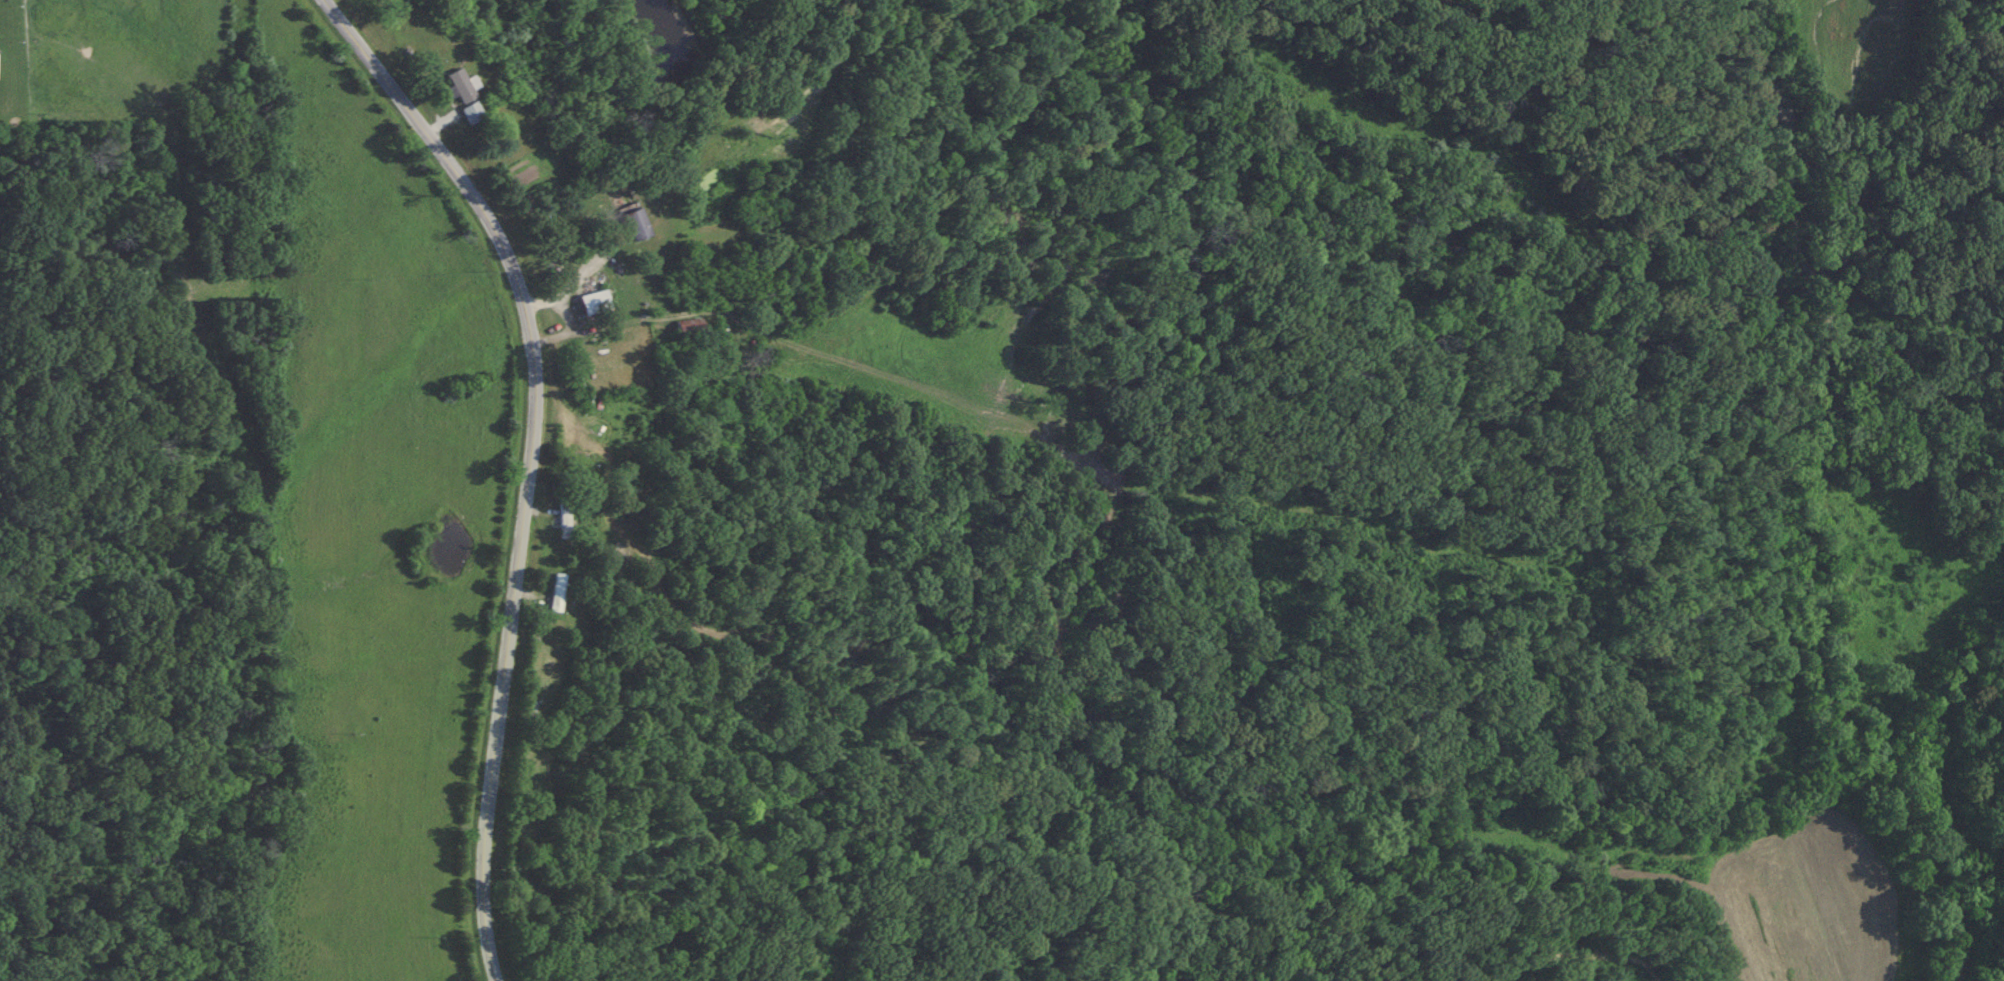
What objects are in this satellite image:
building: (461, 85)
building: (473, 113)
building: (639, 225)
road: (588, 267)
building: (597, 303)
building: (692, 328)
road: (537, 459)

